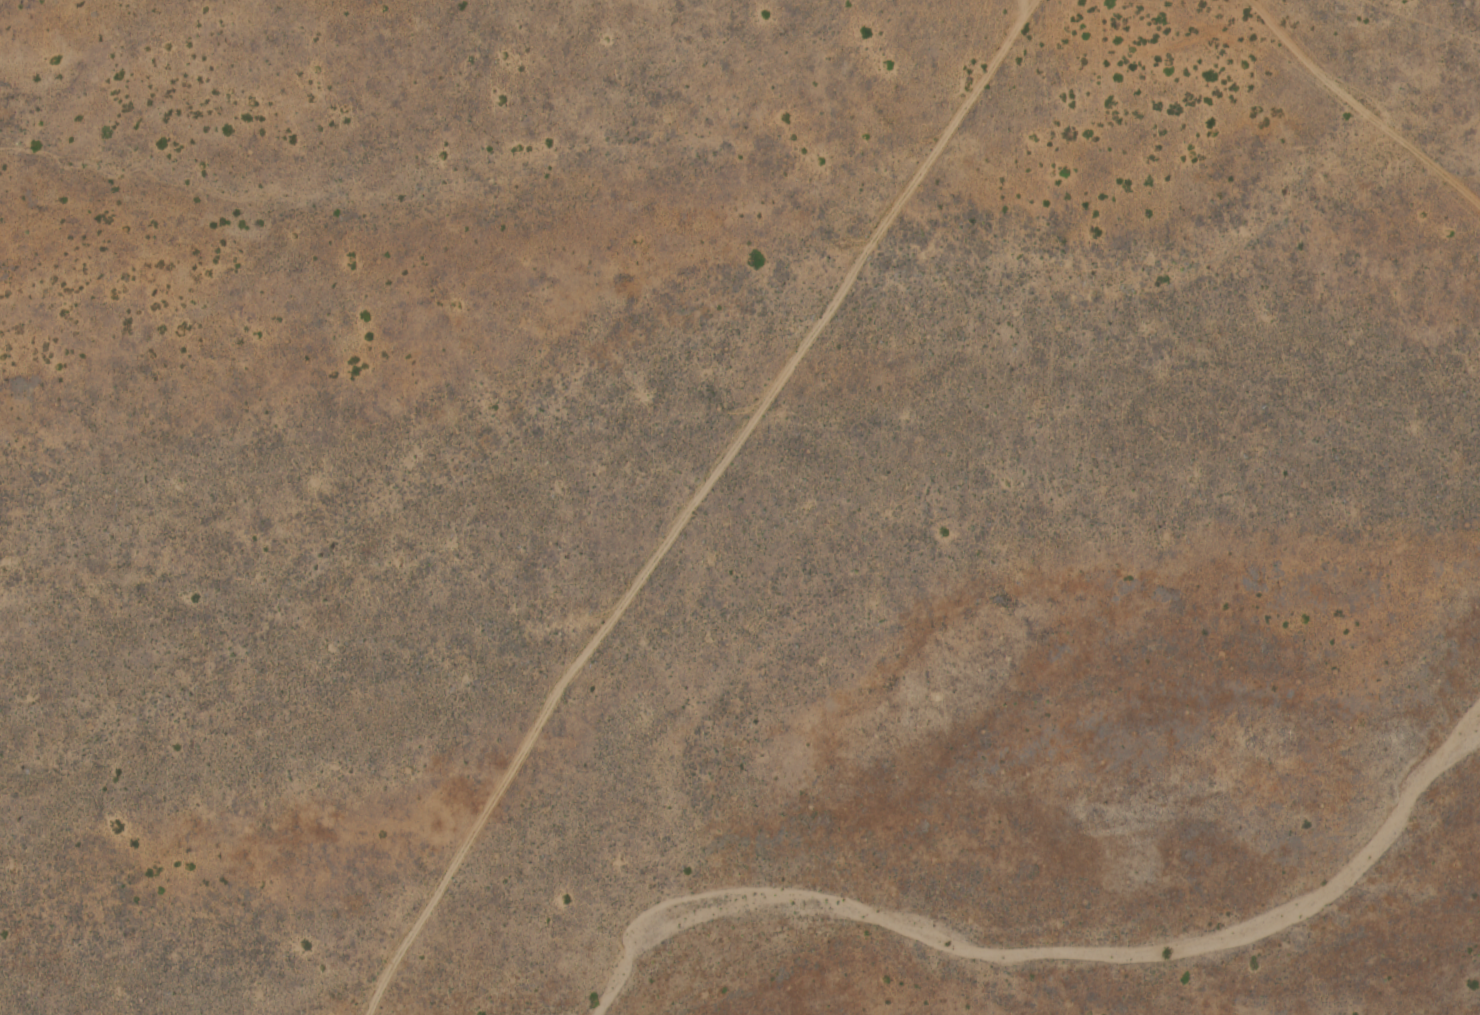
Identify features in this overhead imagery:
road: (1342, 81)

